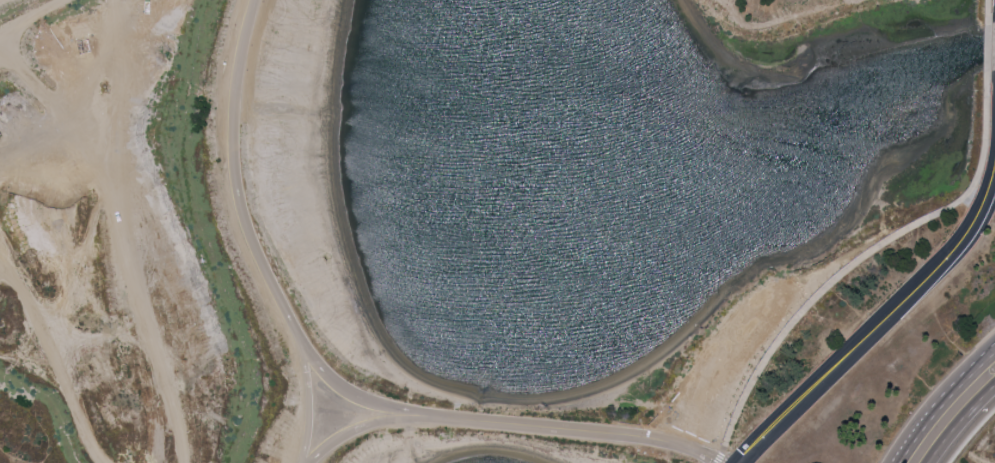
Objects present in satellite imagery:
road: (987, 4)
park: (807, 25)
road: (987, 43)
road: (251, 235)
park: (175, 244)
road: (856, 261)
road: (879, 323)
parking lot: (734, 360)
road: (724, 367)
road: (357, 393)
road: (939, 400)
road: (363, 428)
road: (574, 430)
road: (965, 430)
road: (972, 436)
road: (715, 462)
road: (716, 462)

